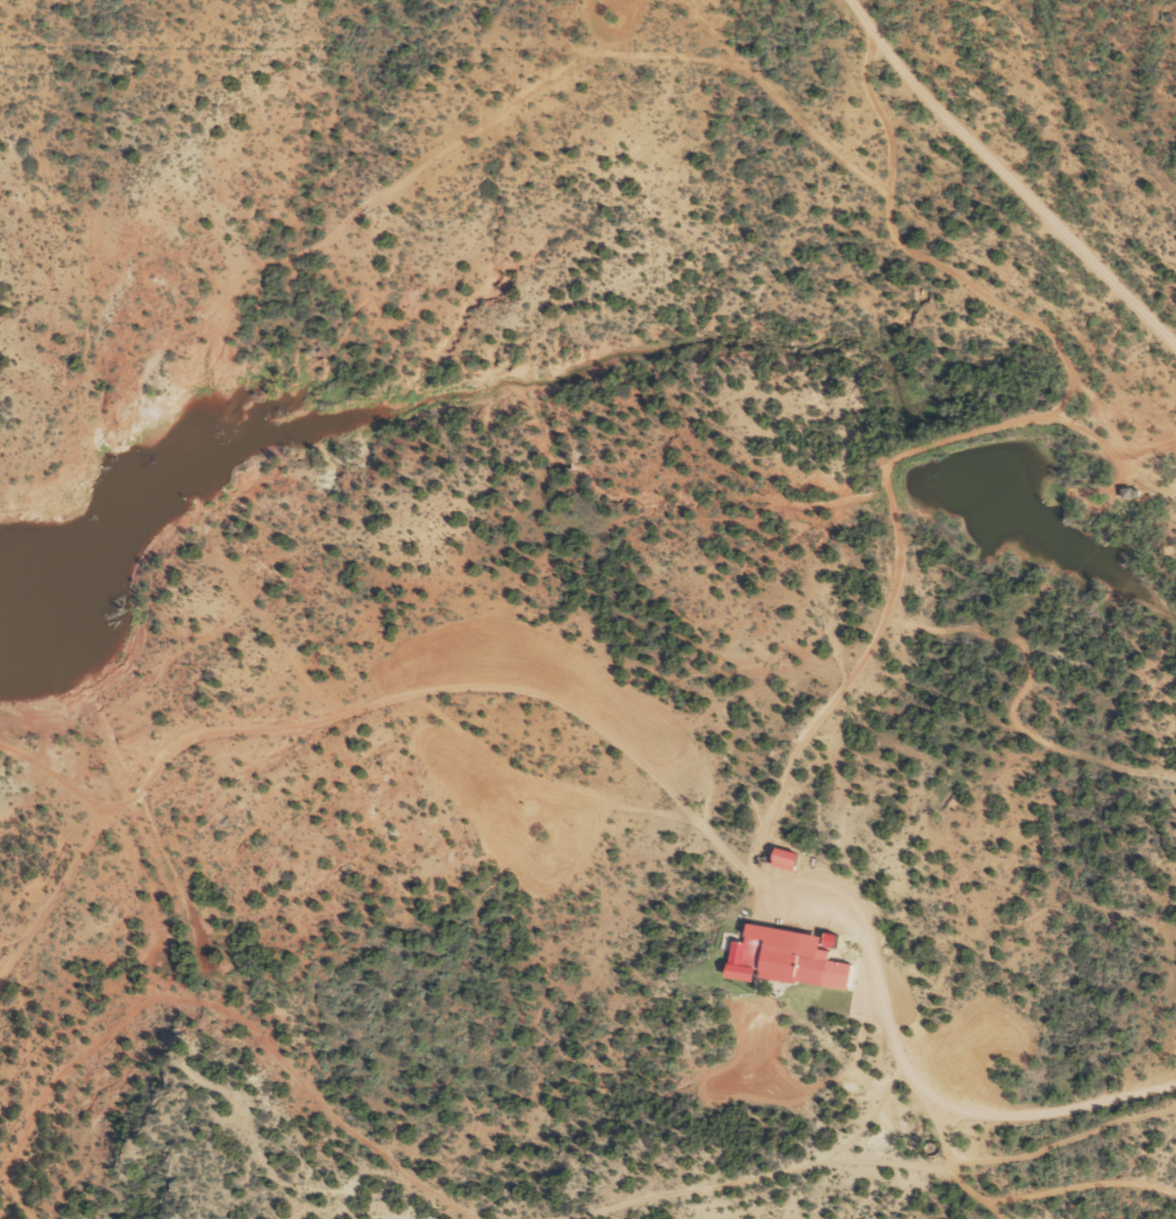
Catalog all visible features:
road: (809, 14)
road: (1000, 187)
road: (869, 719)
road: (589, 773)
building: (782, 857)
building: (784, 955)

